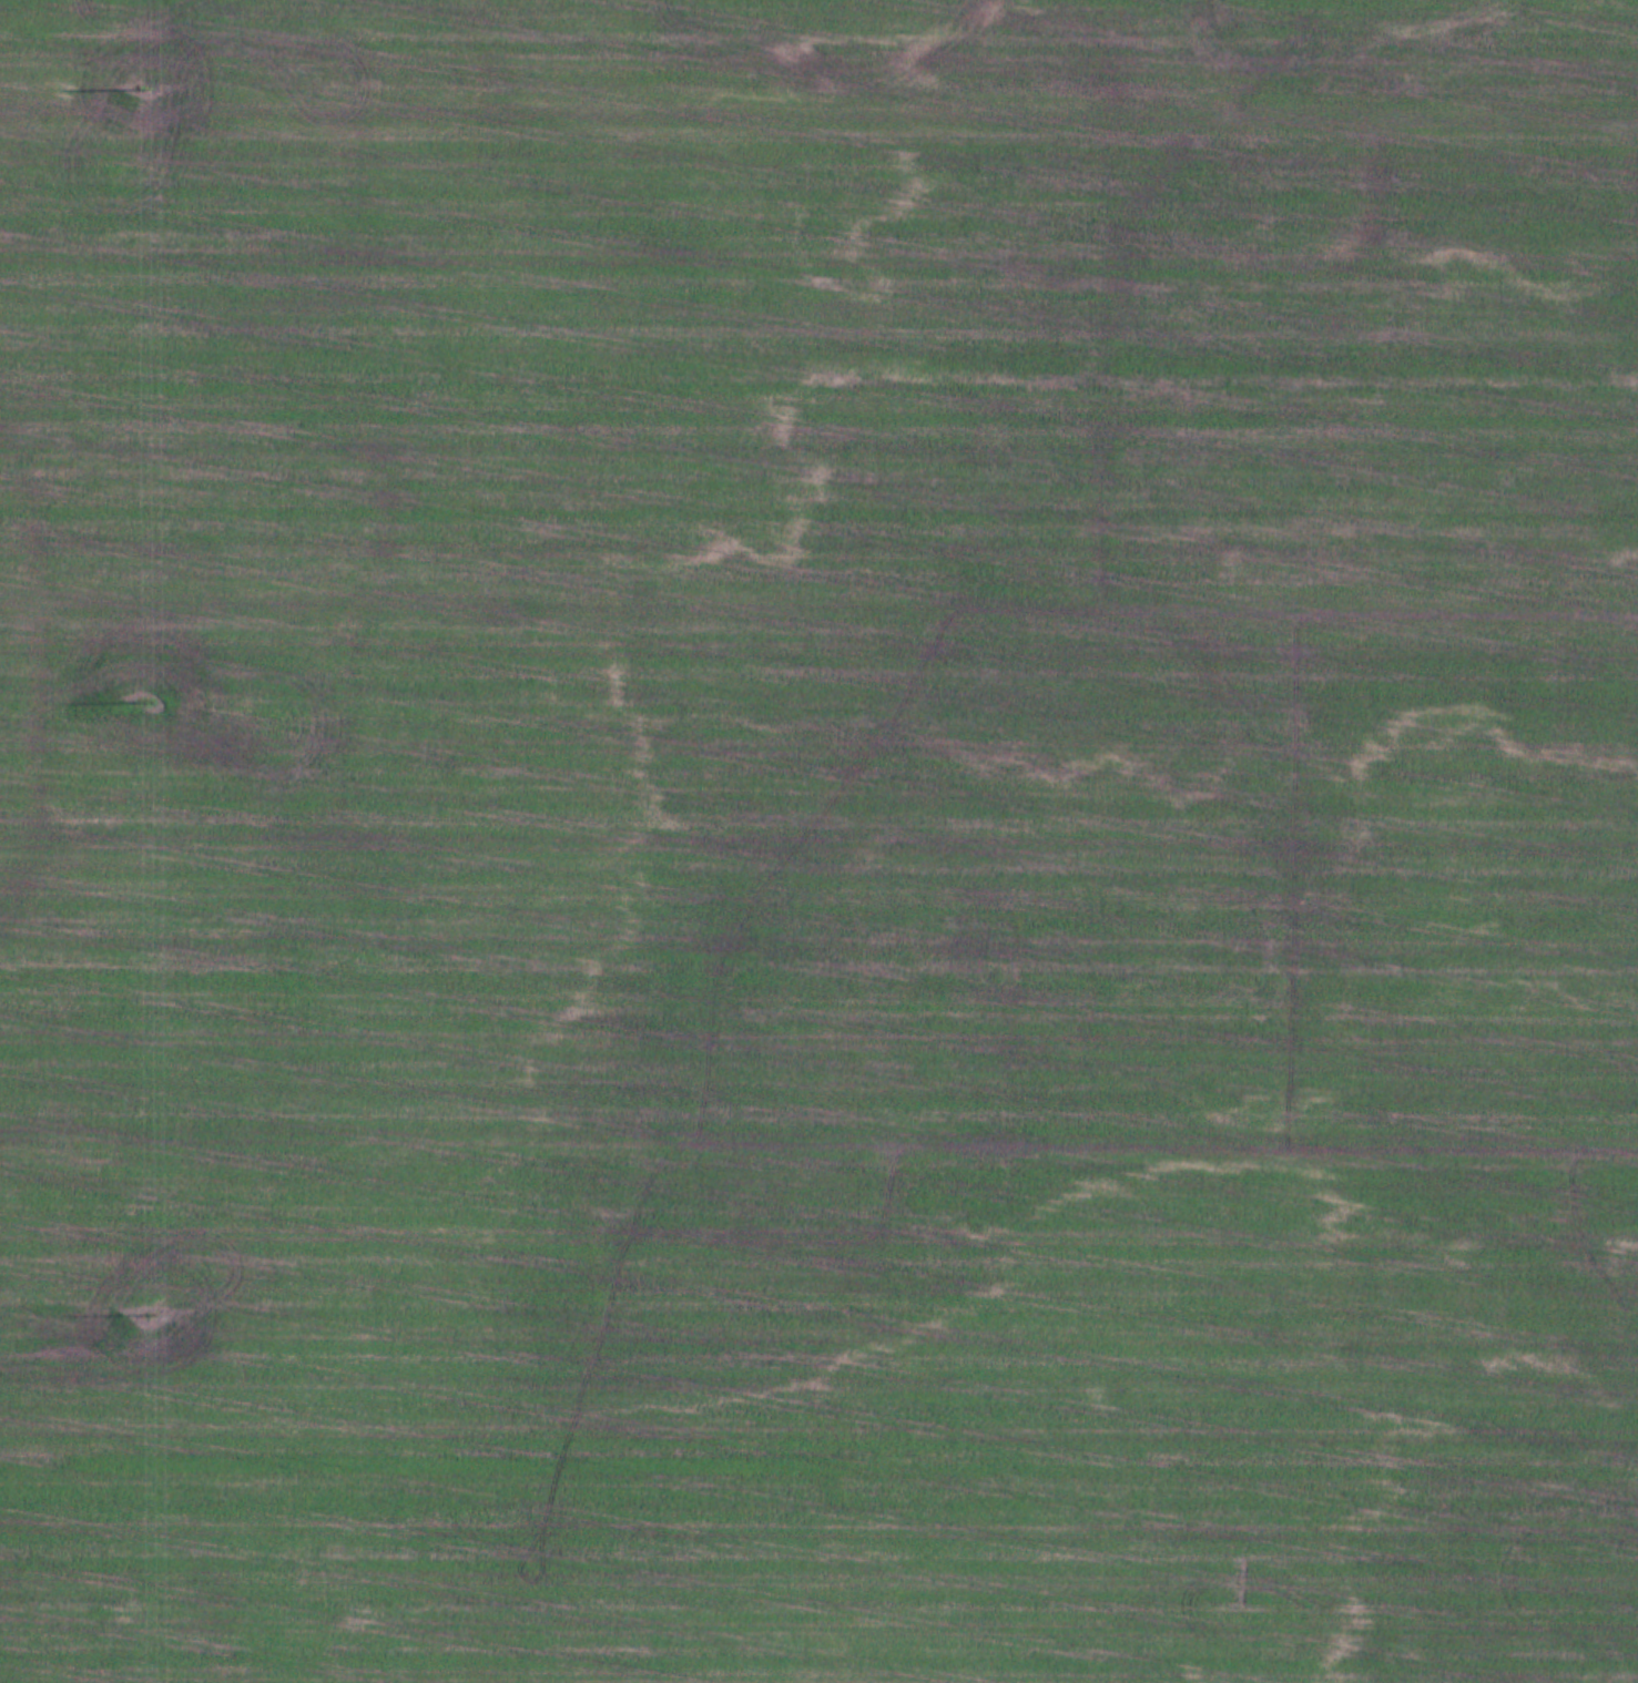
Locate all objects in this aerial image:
power tower: (141, 89)
power tower: (144, 698)
crop: (818, 841)
power tower: (146, 1314)

